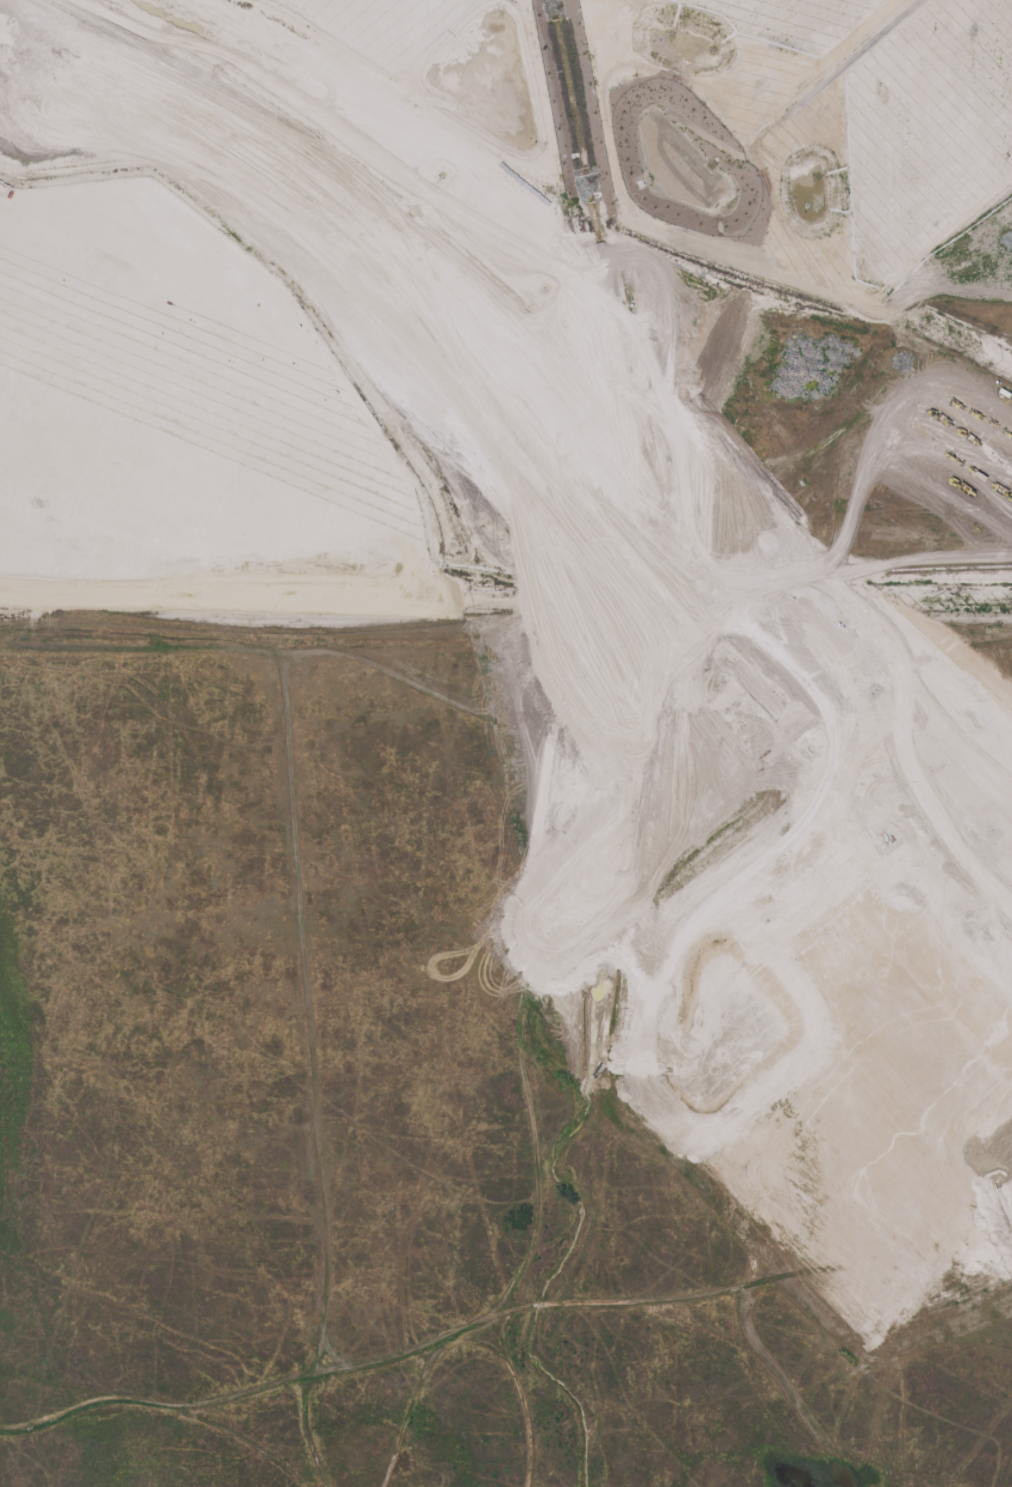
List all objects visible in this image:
building: (431, 63)
road: (211, 604)
road: (139, 650)
road: (514, 981)
road: (308, 1023)
road: (479, 1323)
road: (753, 1352)
road: (982, 1362)
road: (408, 1416)
road: (308, 1436)

